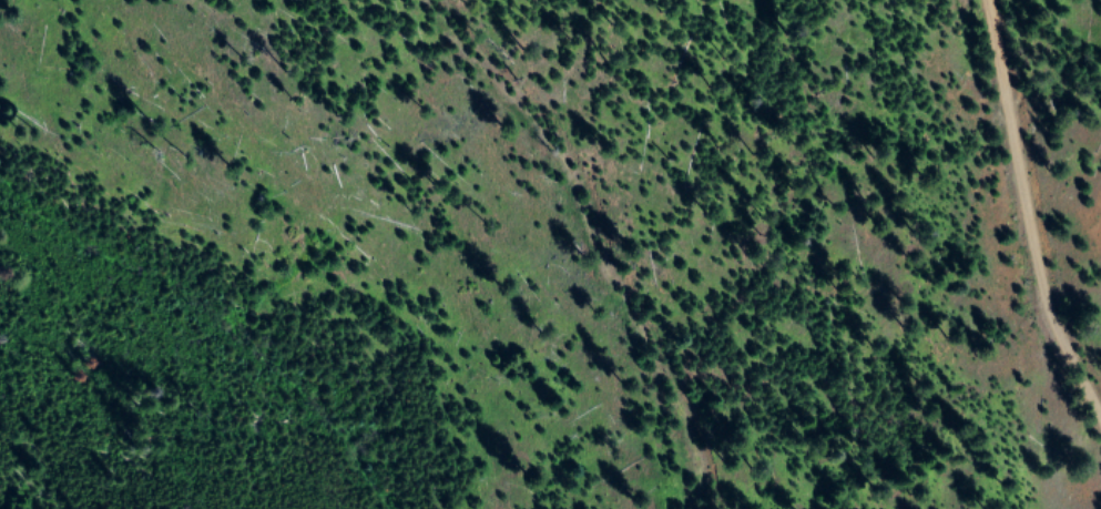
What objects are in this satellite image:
road: (982, 242)

